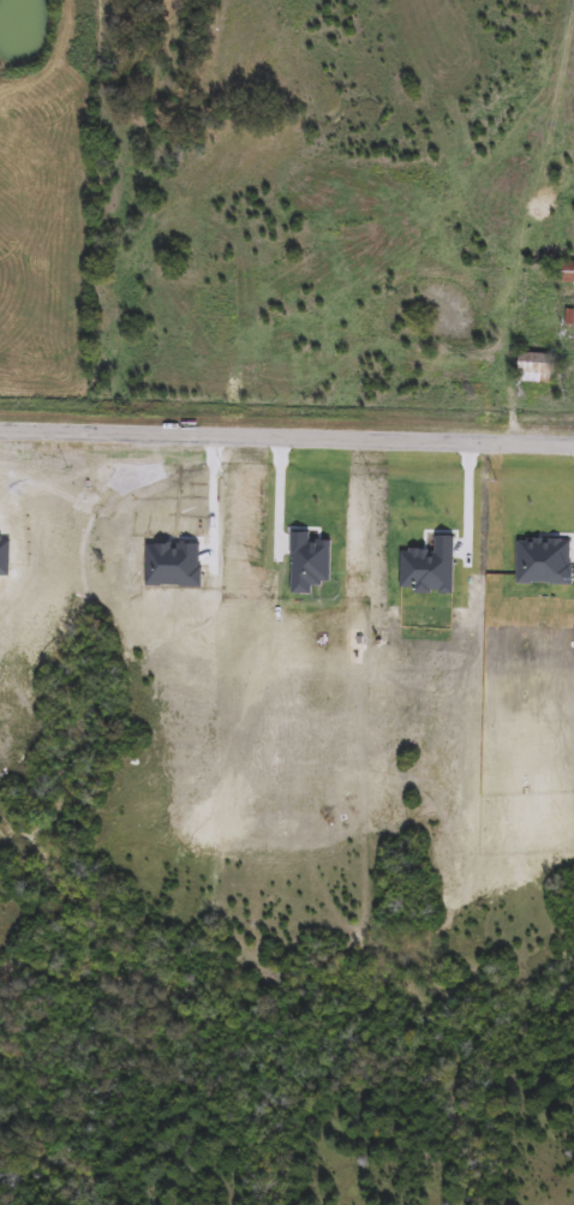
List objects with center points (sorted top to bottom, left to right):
building: (564, 272)
road: (287, 433)
road: (277, 496)

